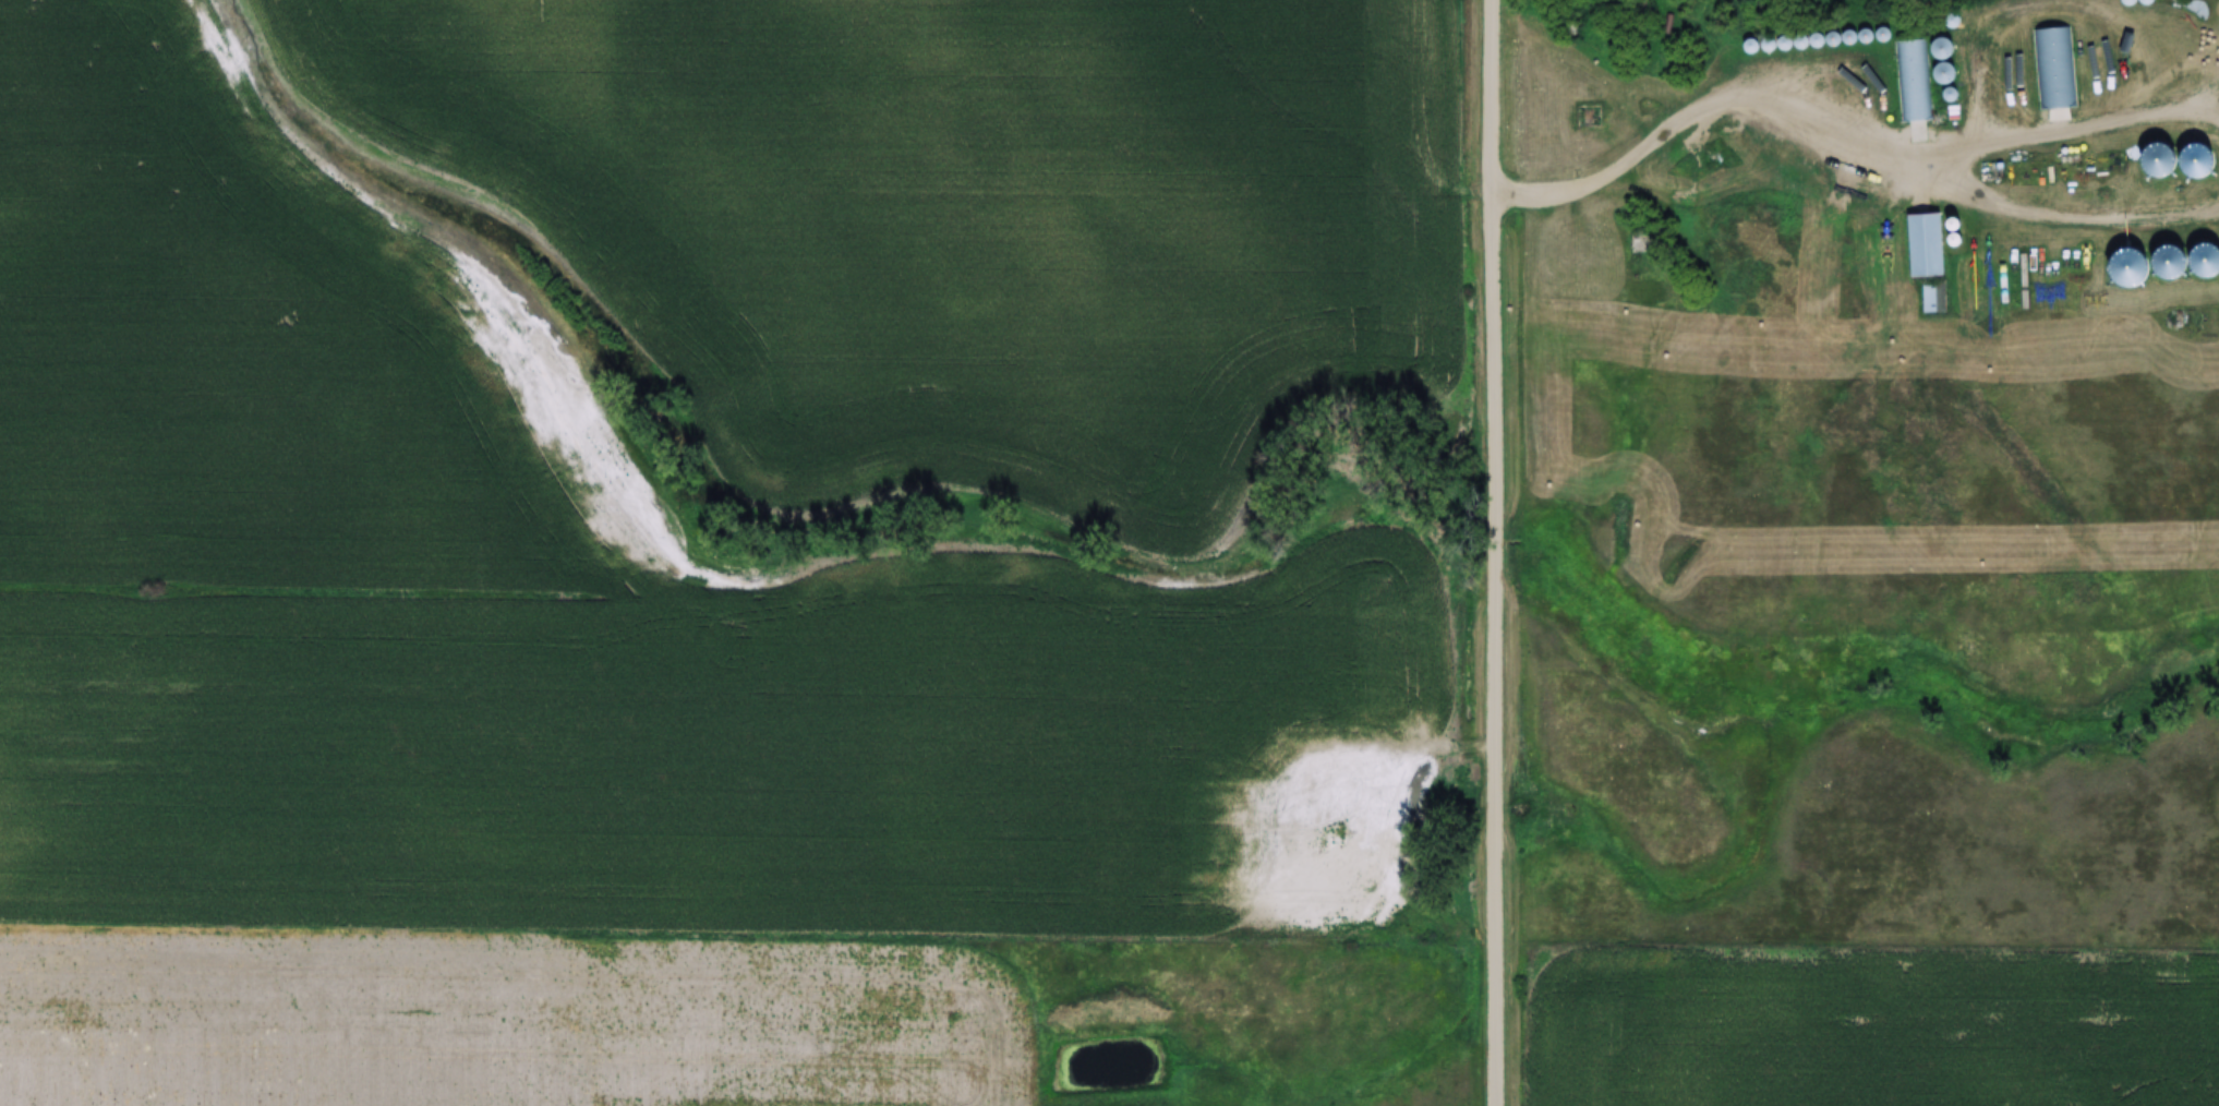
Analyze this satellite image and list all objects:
building: (2055, 67)
building: (1909, 81)
building: (1930, 242)
road: (1500, 552)

